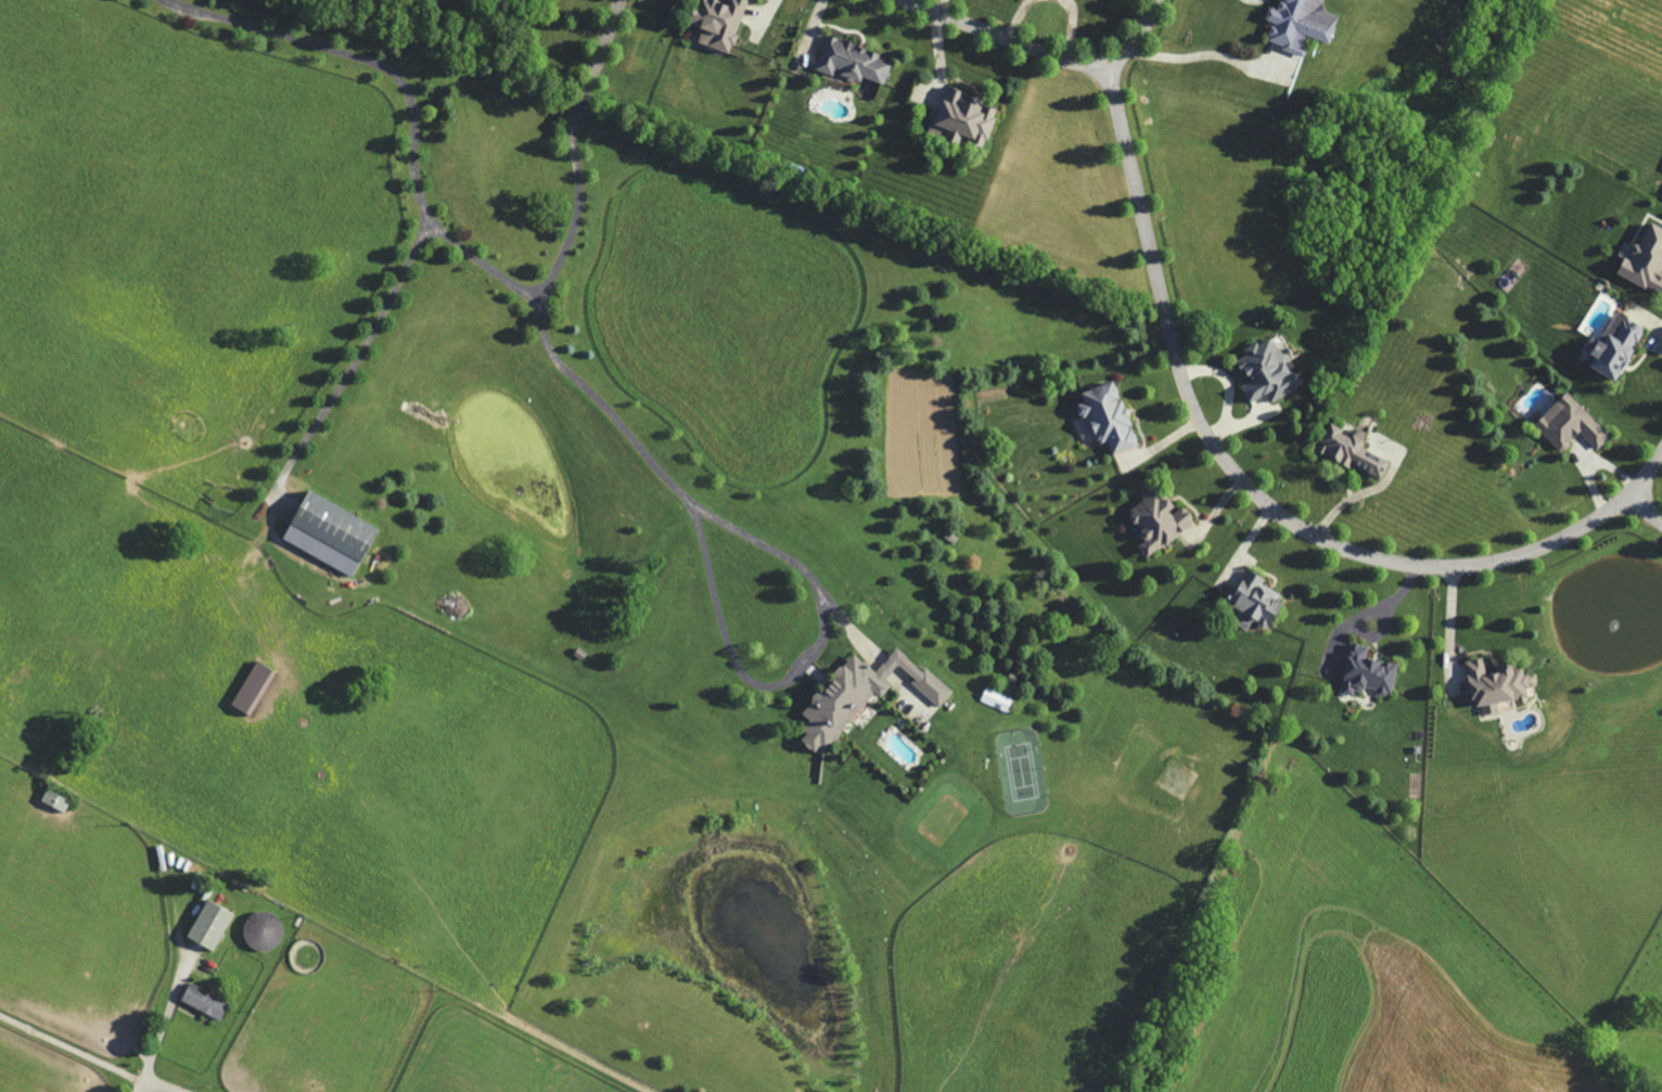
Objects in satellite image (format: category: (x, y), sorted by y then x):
road: (1014, 17)
building: (724, 23)
building: (1305, 24)
road: (1070, 27)
road: (1136, 37)
road: (1007, 38)
road: (601, 53)
road: (1205, 56)
building: (857, 63)
building: (967, 119)
road: (426, 194)
building: (1644, 257)
road: (356, 347)
building: (1620, 348)
building: (1271, 373)
building: (1113, 419)
building: (1574, 425)
building: (1356, 452)
road: (1355, 494)
road: (1258, 497)
road: (1644, 509)
building: (1163, 523)
building: (335, 536)
road: (725, 604)
road: (1450, 625)
building: (1371, 675)
building: (1501, 688)
building: (866, 697)
building: (998, 701)
building: (916, 702)
building: (60, 800)
building: (214, 926)
building: (267, 932)
building: (208, 1002)
road: (165, 1028)
road: (164, 1083)

